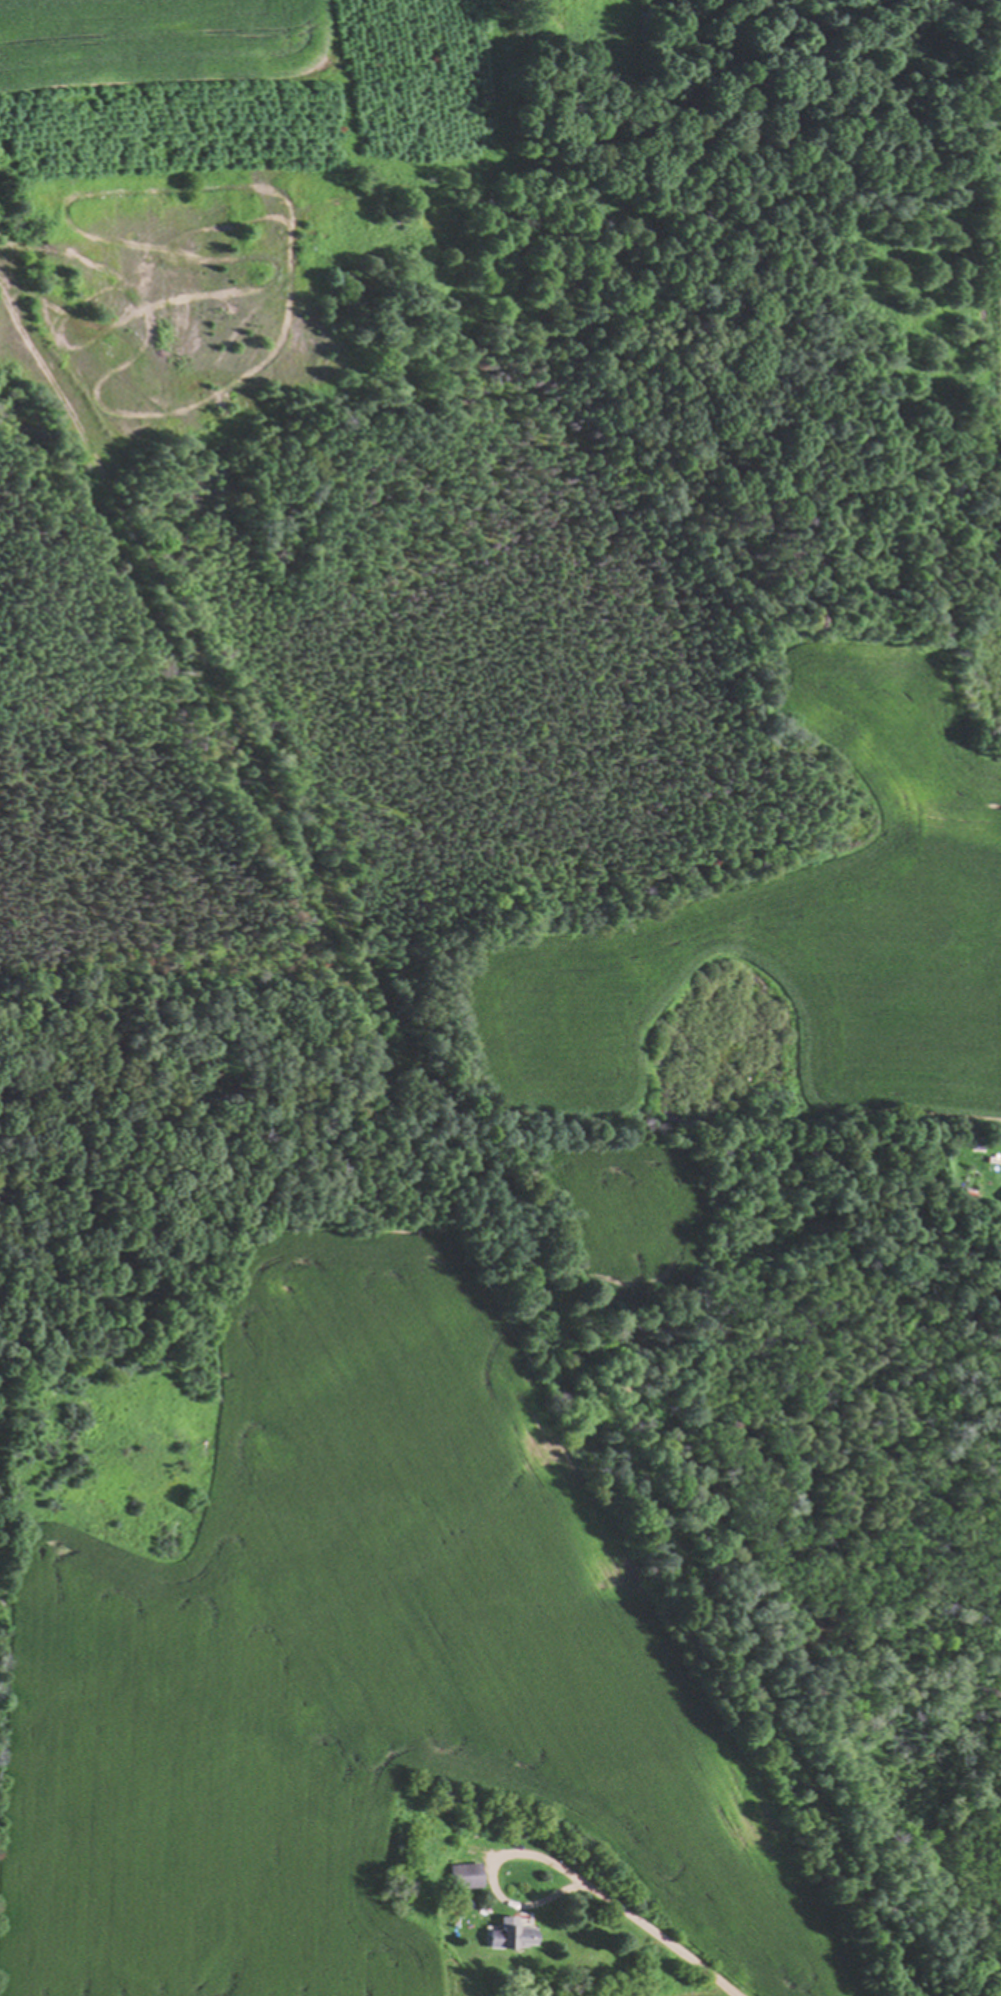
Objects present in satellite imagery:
quarry: (989, 297)
road: (462, 1148)
building: (469, 1876)
road: (490, 1876)
building: (516, 1935)
road: (660, 1939)

